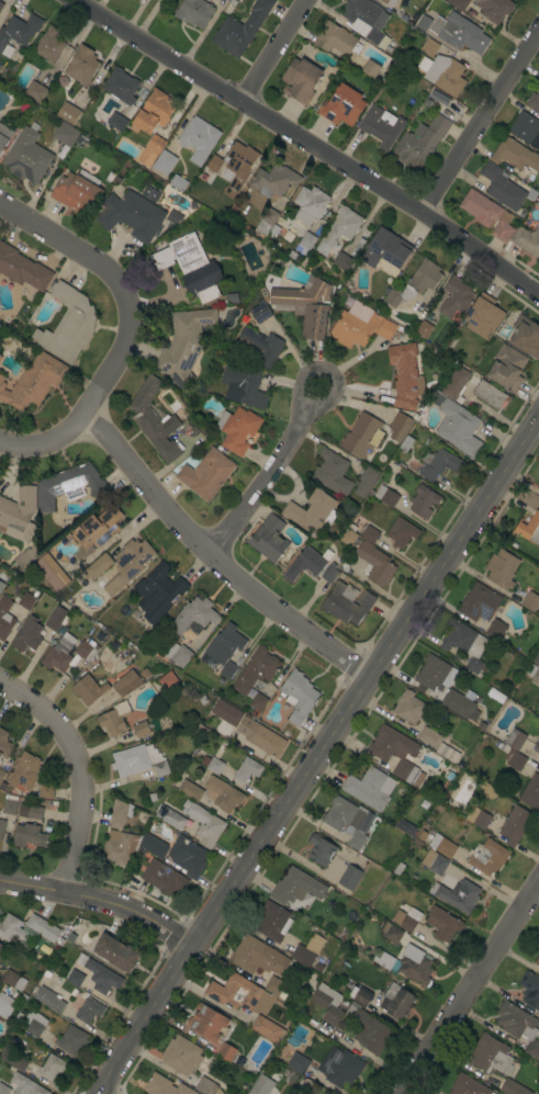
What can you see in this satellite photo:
building: (389, 1)
building: (1, 2)
building: (459, 3)
building: (1, 4)
building: (494, 9)
building: (194, 12)
building: (404, 16)
building: (415, 16)
building: (367, 20)
building: (240, 27)
building: (18, 32)
building: (462, 34)
building: (337, 38)
building: (49, 44)
building: (429, 46)
road: (276, 50)
building: (81, 65)
building: (370, 68)
building: (443, 74)
building: (301, 80)
building: (121, 86)
building: (35, 90)
building: (437, 97)
building: (534, 100)
building: (426, 102)
building: (343, 105)
building: (154, 111)
building: (68, 112)
building: (116, 121)
road: (481, 123)
building: (381, 125)
building: (526, 128)
building: (65, 133)
building: (4, 137)
building: (199, 138)
road: (311, 142)
building: (156, 143)
building: (420, 143)
building: (148, 153)
building: (515, 155)
building: (26, 156)
building: (164, 162)
building: (214, 163)
building: (237, 167)
building: (274, 179)
building: (178, 182)
building: (503, 187)
building: (77, 191)
building: (150, 193)
building: (311, 204)
building: (131, 214)
building: (487, 214)
building: (173, 216)
building: (265, 223)
building: (338, 229)
building: (527, 240)
building: (305, 243)
building: (386, 251)
building: (343, 261)
building: (191, 266)
building: (22, 268)
road: (119, 283)
building: (415, 283)
building: (456, 296)
building: (233, 297)
building: (305, 306)
building: (260, 311)
building: (483, 316)
building: (68, 324)
building: (360, 328)
building: (424, 328)
building: (526, 336)
building: (183, 345)
building: (260, 346)
building: (0, 357)
building: (507, 368)
building: (437, 371)
building: (405, 376)
building: (33, 382)
building: (456, 382)
building: (245, 385)
building: (491, 395)
building: (154, 420)
building: (398, 426)
building: (457, 426)
building: (237, 429)
building: (362, 436)
building: (406, 443)
building: (439, 463)
building: (332, 472)
building: (205, 473)
road: (270, 476)
building: (366, 481)
building: (69, 486)
building: (386, 495)
building: (424, 500)
building: (312, 510)
building: (19, 514)
road: (182, 525)
building: (97, 529)
building: (529, 529)
building: (401, 532)
building: (368, 533)
building: (348, 534)
building: (269, 538)
building: (24, 557)
building: (128, 563)
building: (306, 563)
building: (375, 563)
building: (98, 566)
building: (502, 568)
building: (50, 572)
building: (329, 574)
building: (1, 586)
building: (158, 593)
building: (26, 600)
building: (530, 601)
building: (347, 602)
building: (481, 602)
building: (5, 616)
building: (55, 618)
building: (193, 618)
building: (496, 630)
building: (27, 634)
building: (464, 643)
building: (224, 644)
building: (87, 650)
building: (59, 653)
building: (175, 655)
building: (127, 657)
building: (228, 669)
building: (256, 669)
building: (530, 669)
building: (431, 672)
building: (145, 673)
building: (168, 680)
building: (538, 684)
building: (105, 685)
building: (420, 689)
building: (297, 696)
building: (451, 700)
building: (258, 703)
building: (408, 707)
building: (227, 711)
building: (114, 719)
building: (141, 729)
building: (261, 736)
building: (537, 743)
building: (4, 744)
building: (438, 744)
building: (514, 749)
building: (396, 753)
road: (317, 756)
building: (134, 759)
building: (214, 759)
road: (80, 768)
building: (160, 768)
building: (247, 769)
building: (25, 770)
building: (1, 774)
building: (369, 788)
building: (46, 790)
building: (191, 790)
building: (487, 791)
building: (531, 792)
building: (223, 793)
building: (153, 796)
building: (7, 810)
building: (31, 811)
building: (120, 813)
building: (170, 817)
building: (479, 817)
building: (347, 819)
building: (204, 823)
building: (400, 823)
building: (515, 824)
building: (408, 828)
building: (29, 835)
building: (153, 845)
building: (442, 845)
building: (121, 848)
building: (321, 849)
building: (188, 856)
building: (487, 856)
building: (433, 862)
building: (397, 868)
building: (164, 877)
building: (349, 877)
building: (296, 887)
building: (456, 894)
road: (101, 898)
building: (411, 920)
building: (272, 921)
building: (442, 923)
building: (27, 929)
building: (392, 932)
building: (1, 947)
building: (307, 950)
building: (116, 952)
building: (257, 957)
building: (383, 960)
building: (537, 961)
building: (415, 965)
building: (102, 977)
building: (75, 978)
building: (13, 979)
building: (274, 986)
road: (470, 989)
building: (530, 989)
building: (240, 994)
building: (360, 995)
building: (49, 1000)
building: (396, 1001)
building: (5, 1005)
building: (89, 1011)
building: (328, 1011)
building: (209, 1022)
building: (35, 1024)
building: (519, 1026)
building: (266, 1027)
building: (368, 1028)
building: (71, 1040)
building: (226, 1051)
building: (489, 1053)
building: (181, 1056)
building: (18, 1061)
building: (242, 1062)
building: (297, 1062)
building: (52, 1067)
building: (345, 1069)
building: (288, 1081)
building: (263, 1082)
building: (26, 1085)
building: (468, 1085)
building: (165, 1086)
building: (207, 1086)
building: (513, 1087)
building: (3, 1089)

